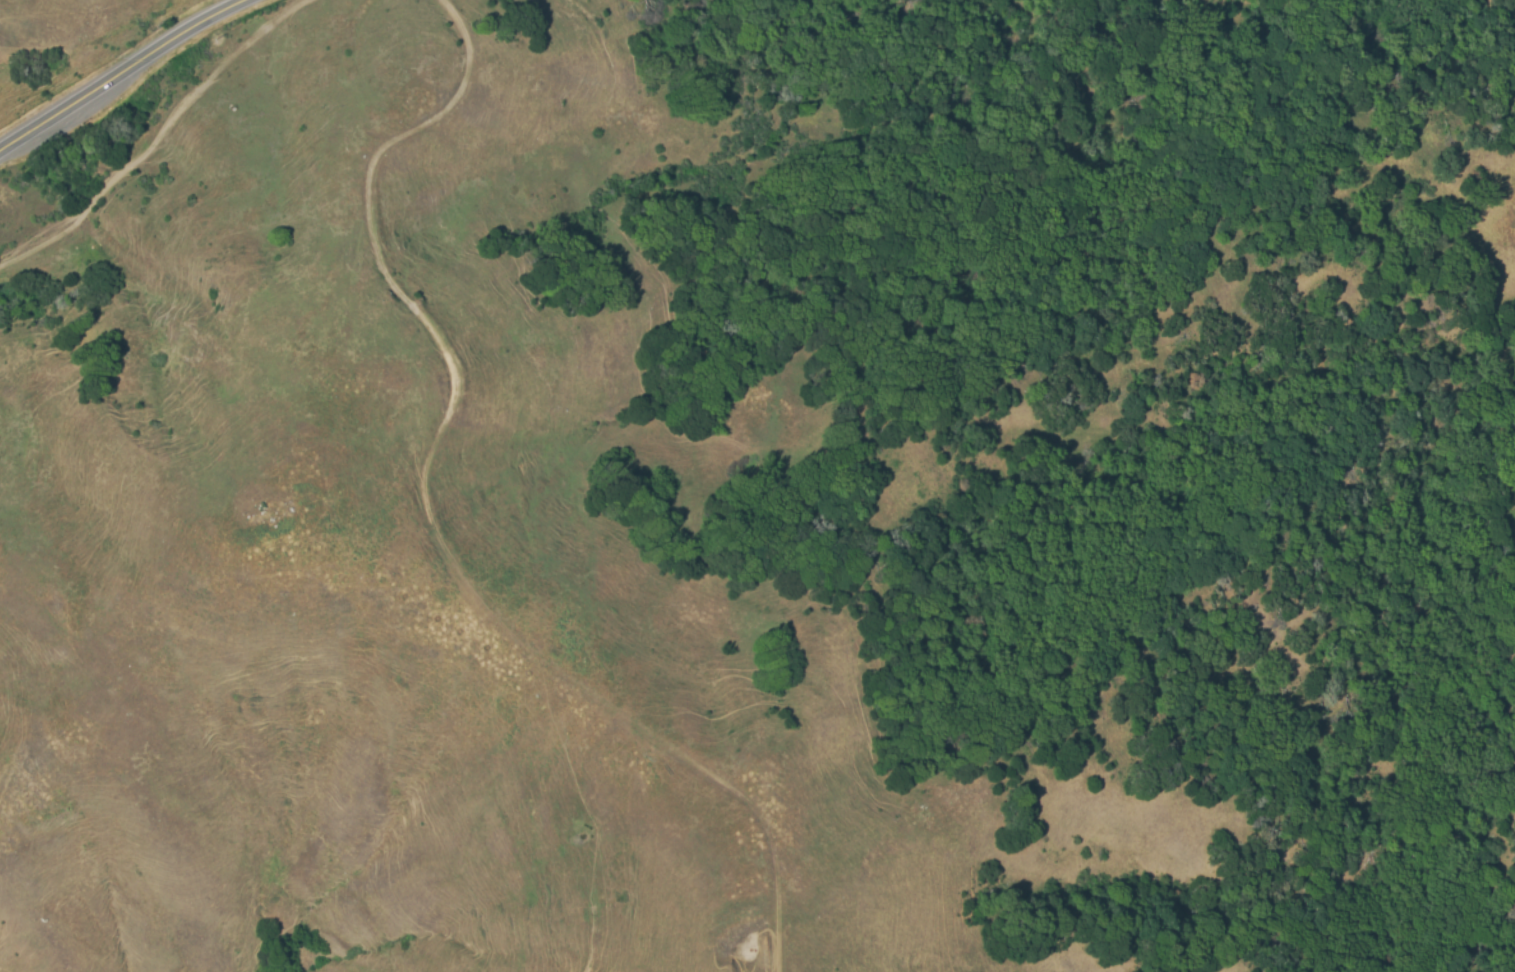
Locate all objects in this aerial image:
road: (119, 70)

